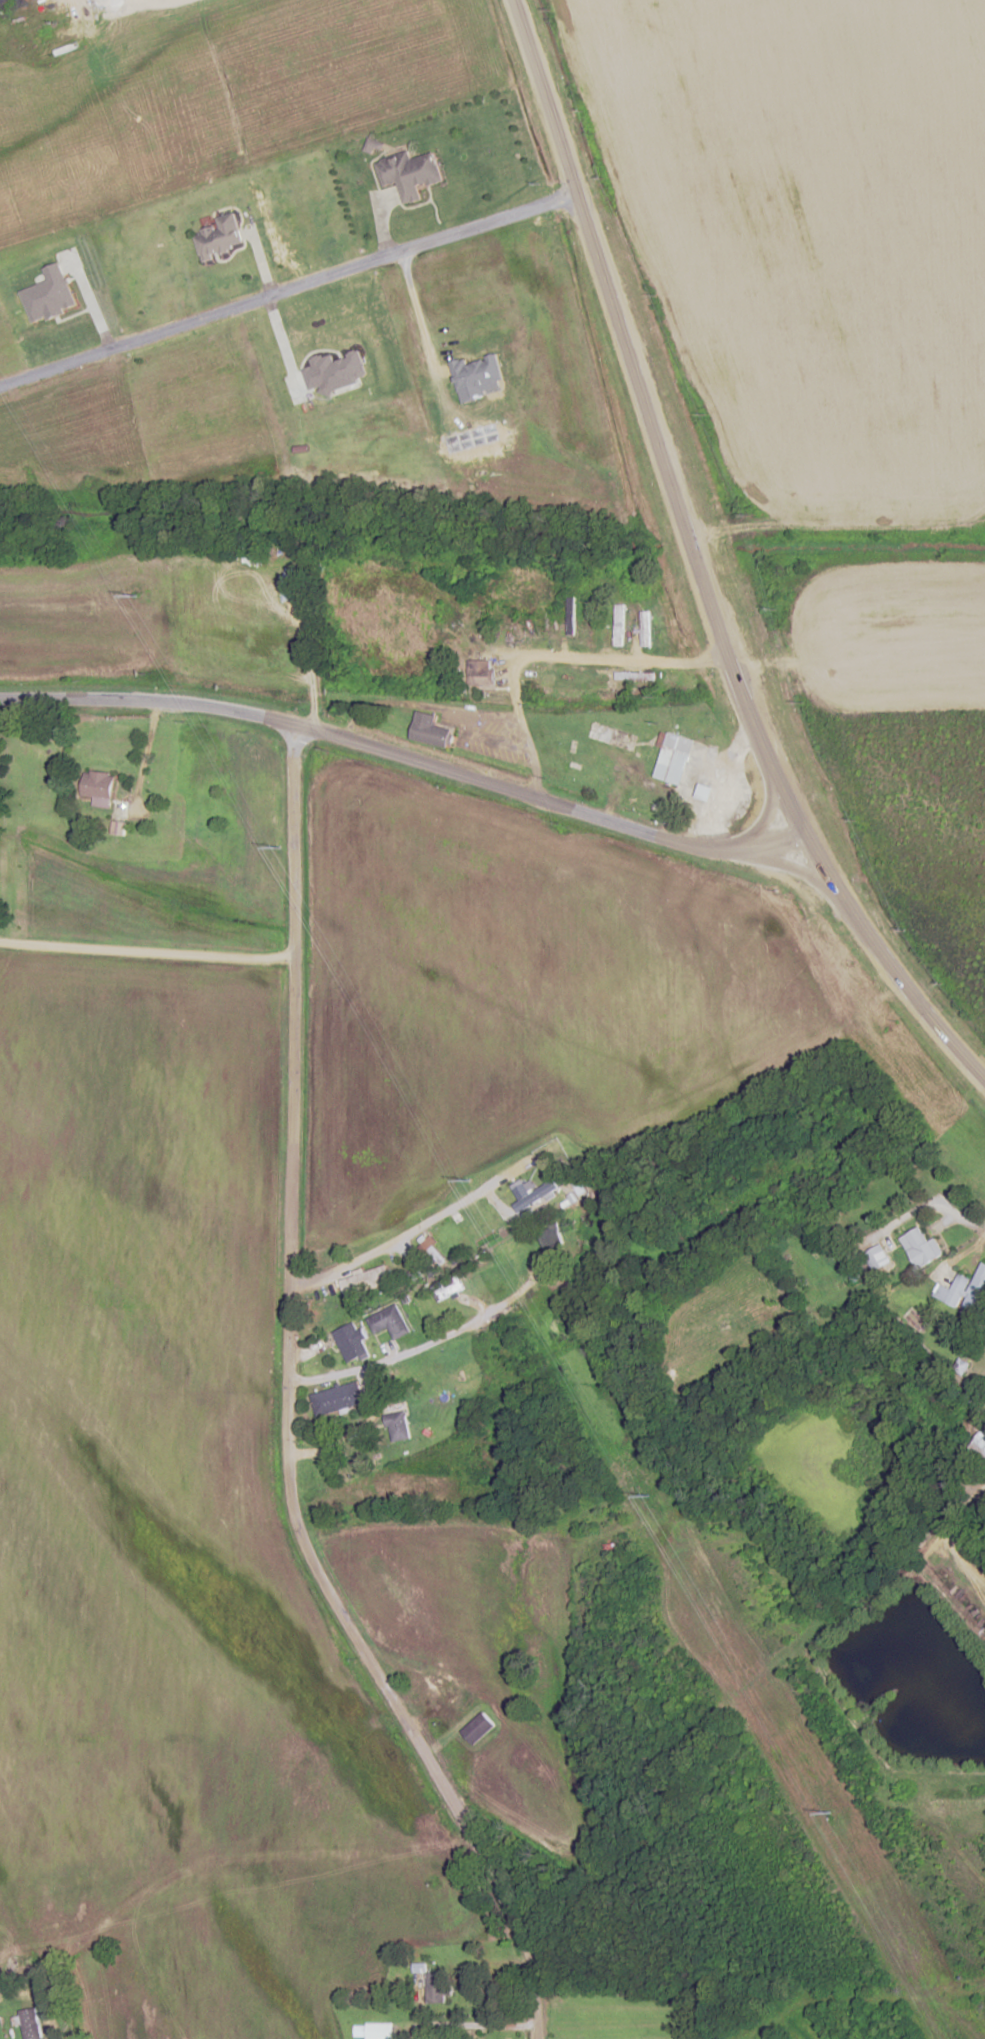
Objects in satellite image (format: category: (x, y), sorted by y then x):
road: (144, 5)
building: (408, 173)
building: (220, 236)
road: (636, 384)
building: (571, 615)
building: (620, 624)
building: (646, 628)
road: (547, 651)
building: (481, 673)
road: (147, 699)
road: (392, 703)
road: (458, 723)
building: (430, 730)
parking lot: (481, 731)
building: (671, 757)
gas station: (671, 757)
road: (144, 758)
building: (575, 773)
road: (724, 782)
road: (649, 787)
building: (99, 788)
road: (513, 788)
building: (705, 792)
road: (790, 799)
road: (765, 811)
road: (770, 840)
road: (823, 861)
road: (787, 864)
road: (147, 952)
road: (907, 987)
building: (536, 1198)
road: (934, 1198)
building: (921, 1246)
road: (389, 1247)
building: (432, 1249)
building: (878, 1256)
building: (412, 1264)
building: (366, 1281)
building: (965, 1292)
building: (389, 1321)
building: (351, 1342)
road: (422, 1345)
building: (337, 1398)
road: (285, 1410)
building: (398, 1425)
road: (519, 1429)
building: (980, 1441)
building: (478, 1728)
road: (238, 1859)
building: (436, 1987)
building: (31, 2023)
road: (468, 2028)
building: (372, 2030)

